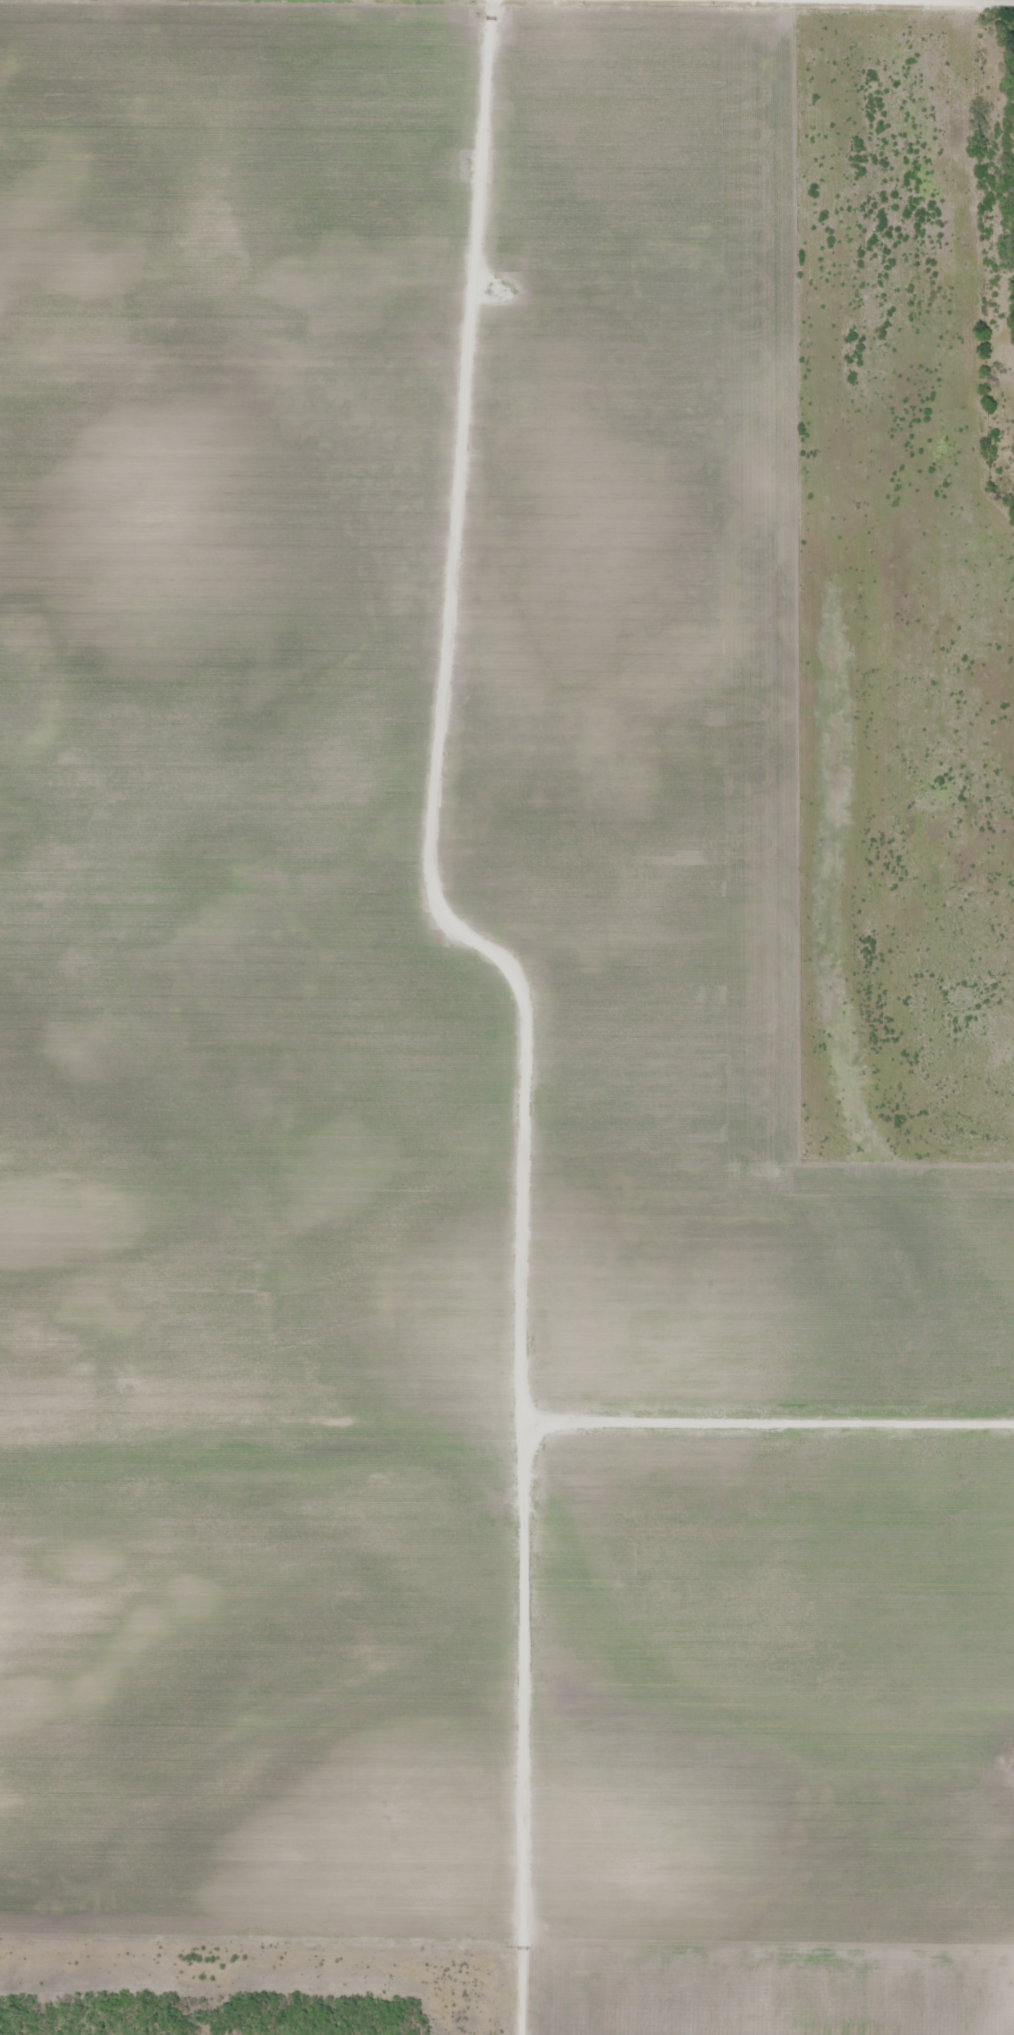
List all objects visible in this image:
road: (940, 1)
road: (1001, 3)

